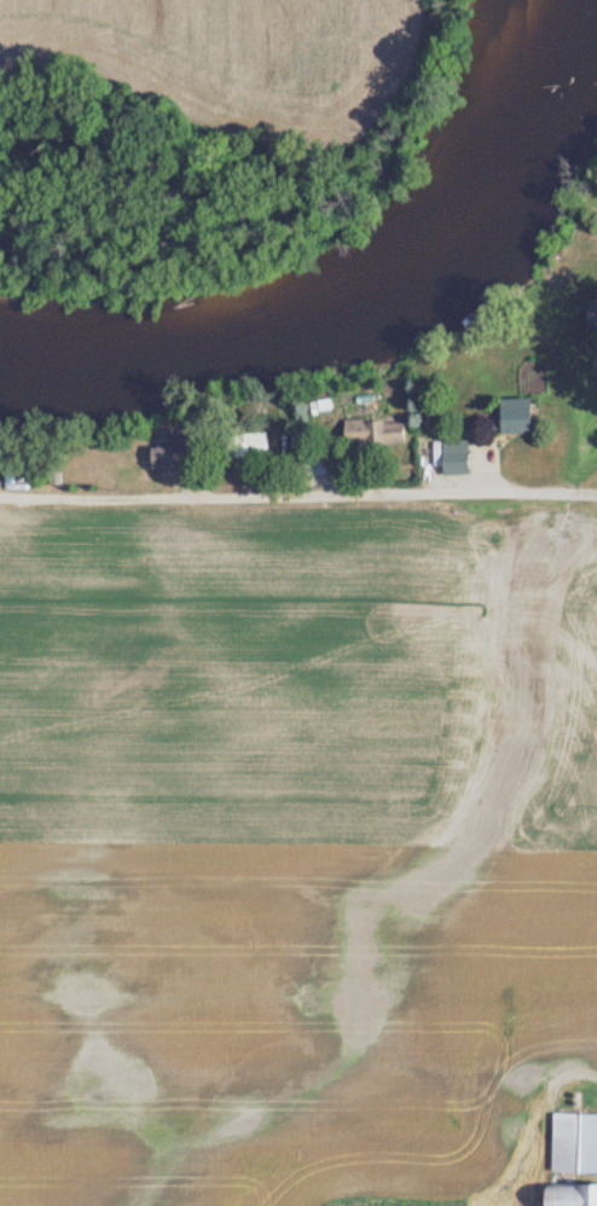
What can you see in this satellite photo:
river: (373, 307)
building: (596, 319)
building: (522, 417)
building: (379, 431)
building: (251, 446)
building: (179, 456)
building: (313, 456)
building: (462, 457)
road: (298, 497)
building: (576, 1142)
building: (574, 1194)

